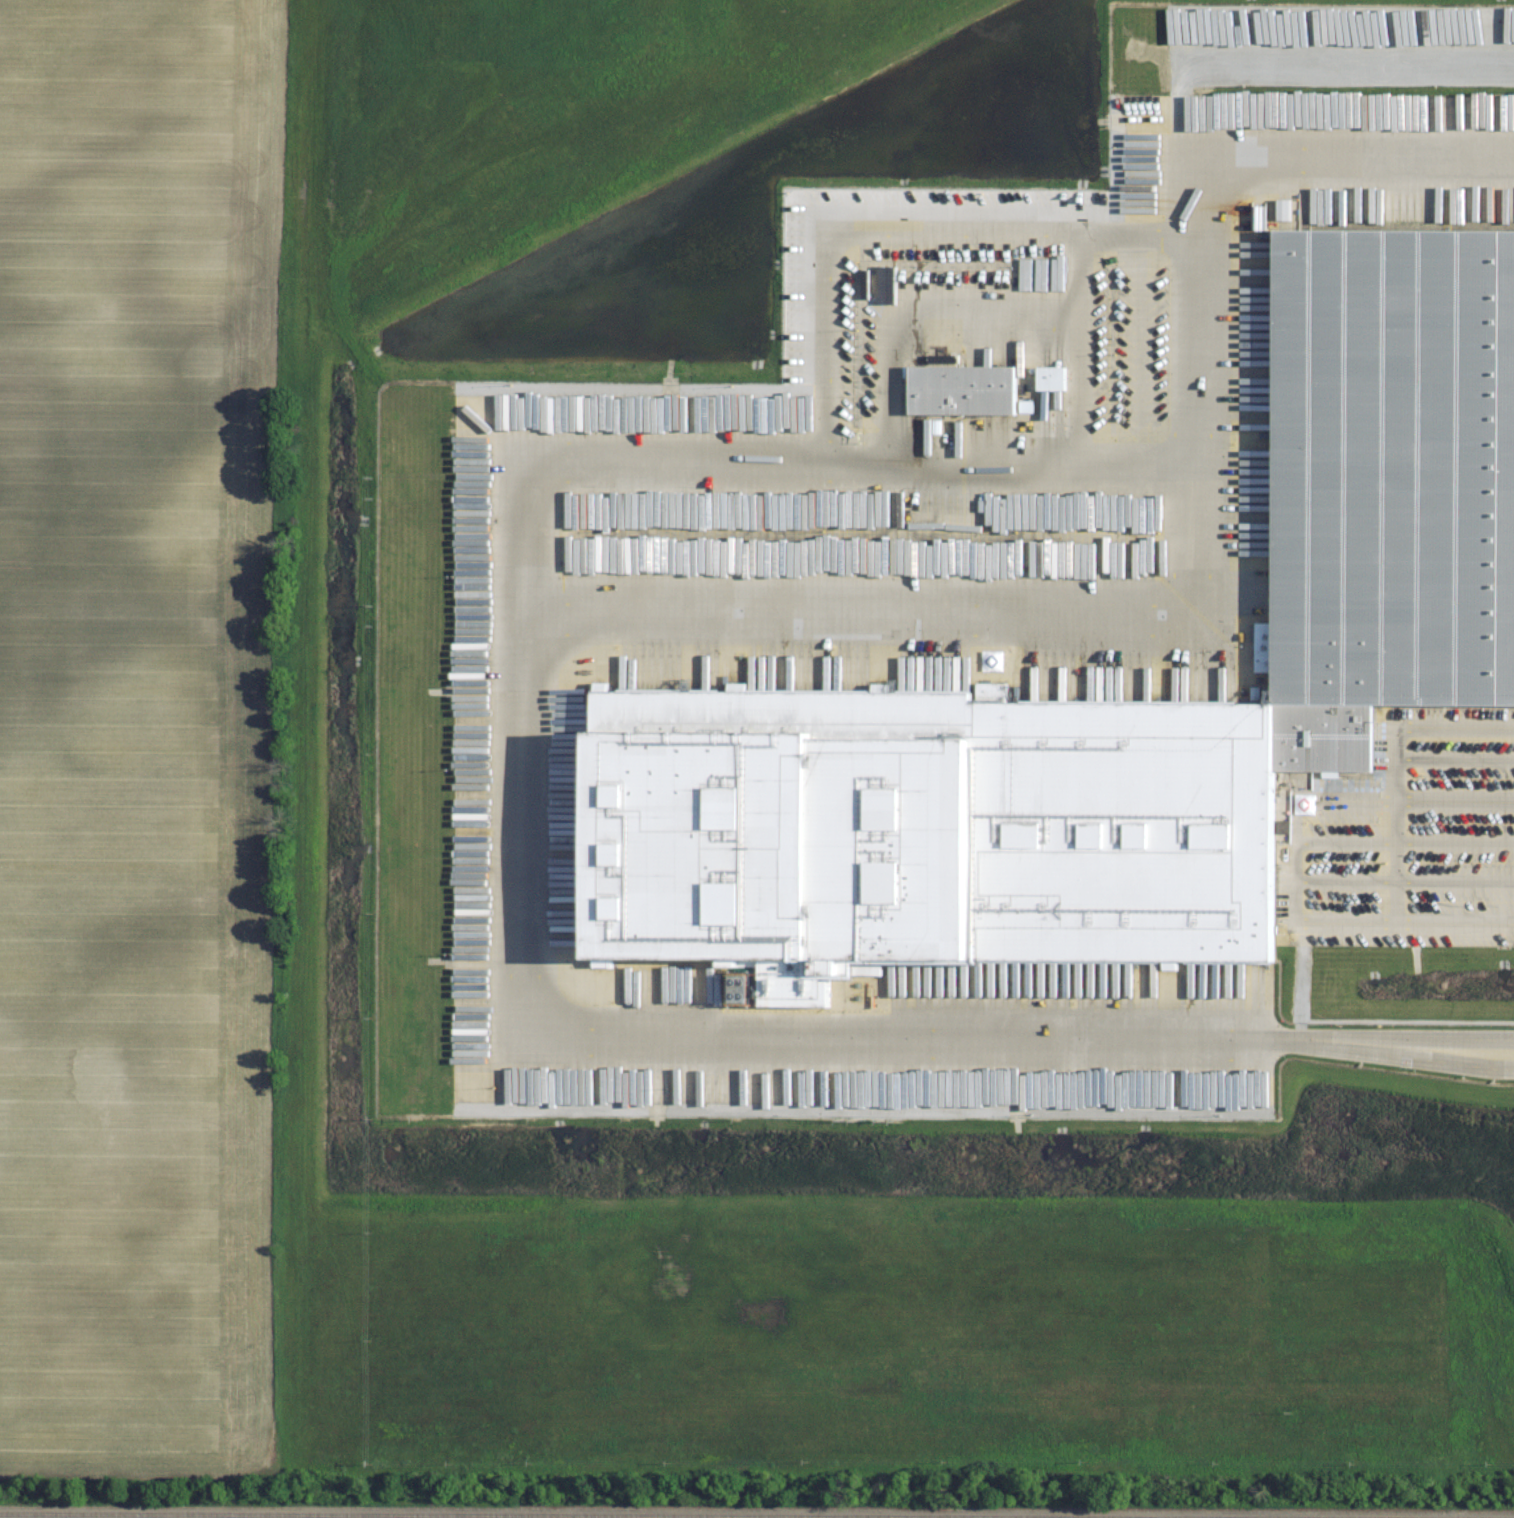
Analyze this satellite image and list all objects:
road: (913, 236)
building: (1057, 379)
building: (966, 386)
road: (1207, 577)
building: (1112, 697)
road: (1454, 760)
road: (1394, 763)
road: (1347, 798)
road: (1407, 840)
road: (1406, 883)
road: (515, 909)
road: (1407, 919)
railway: (757, 1514)

